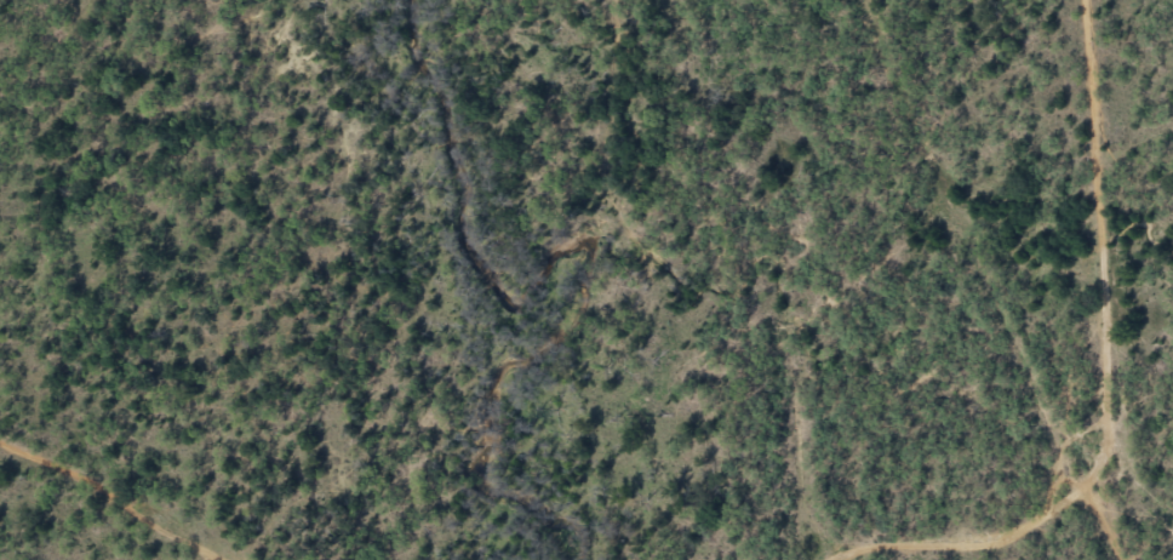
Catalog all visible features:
road: (1028, 284)

